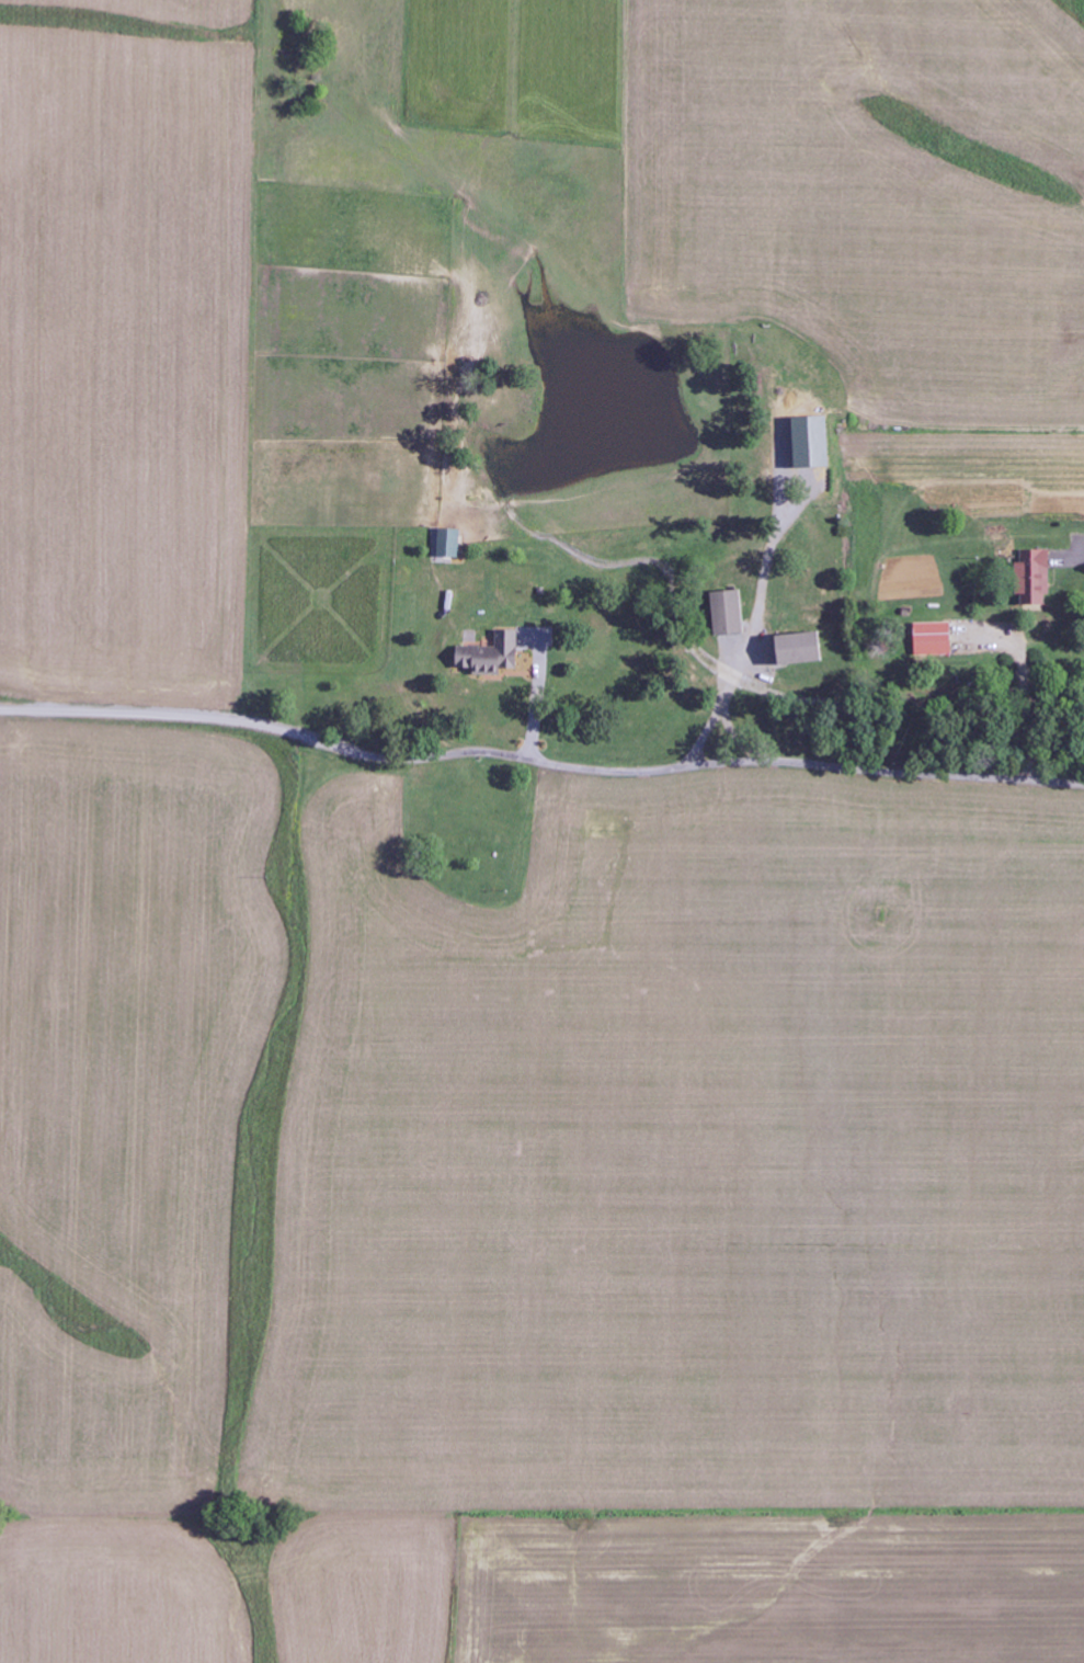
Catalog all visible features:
building: (814, 443)
building: (449, 543)
building: (1036, 579)
building: (732, 615)
building: (934, 639)
building: (802, 650)
building: (493, 656)
road: (590, 693)
road: (586, 714)
road: (539, 760)

